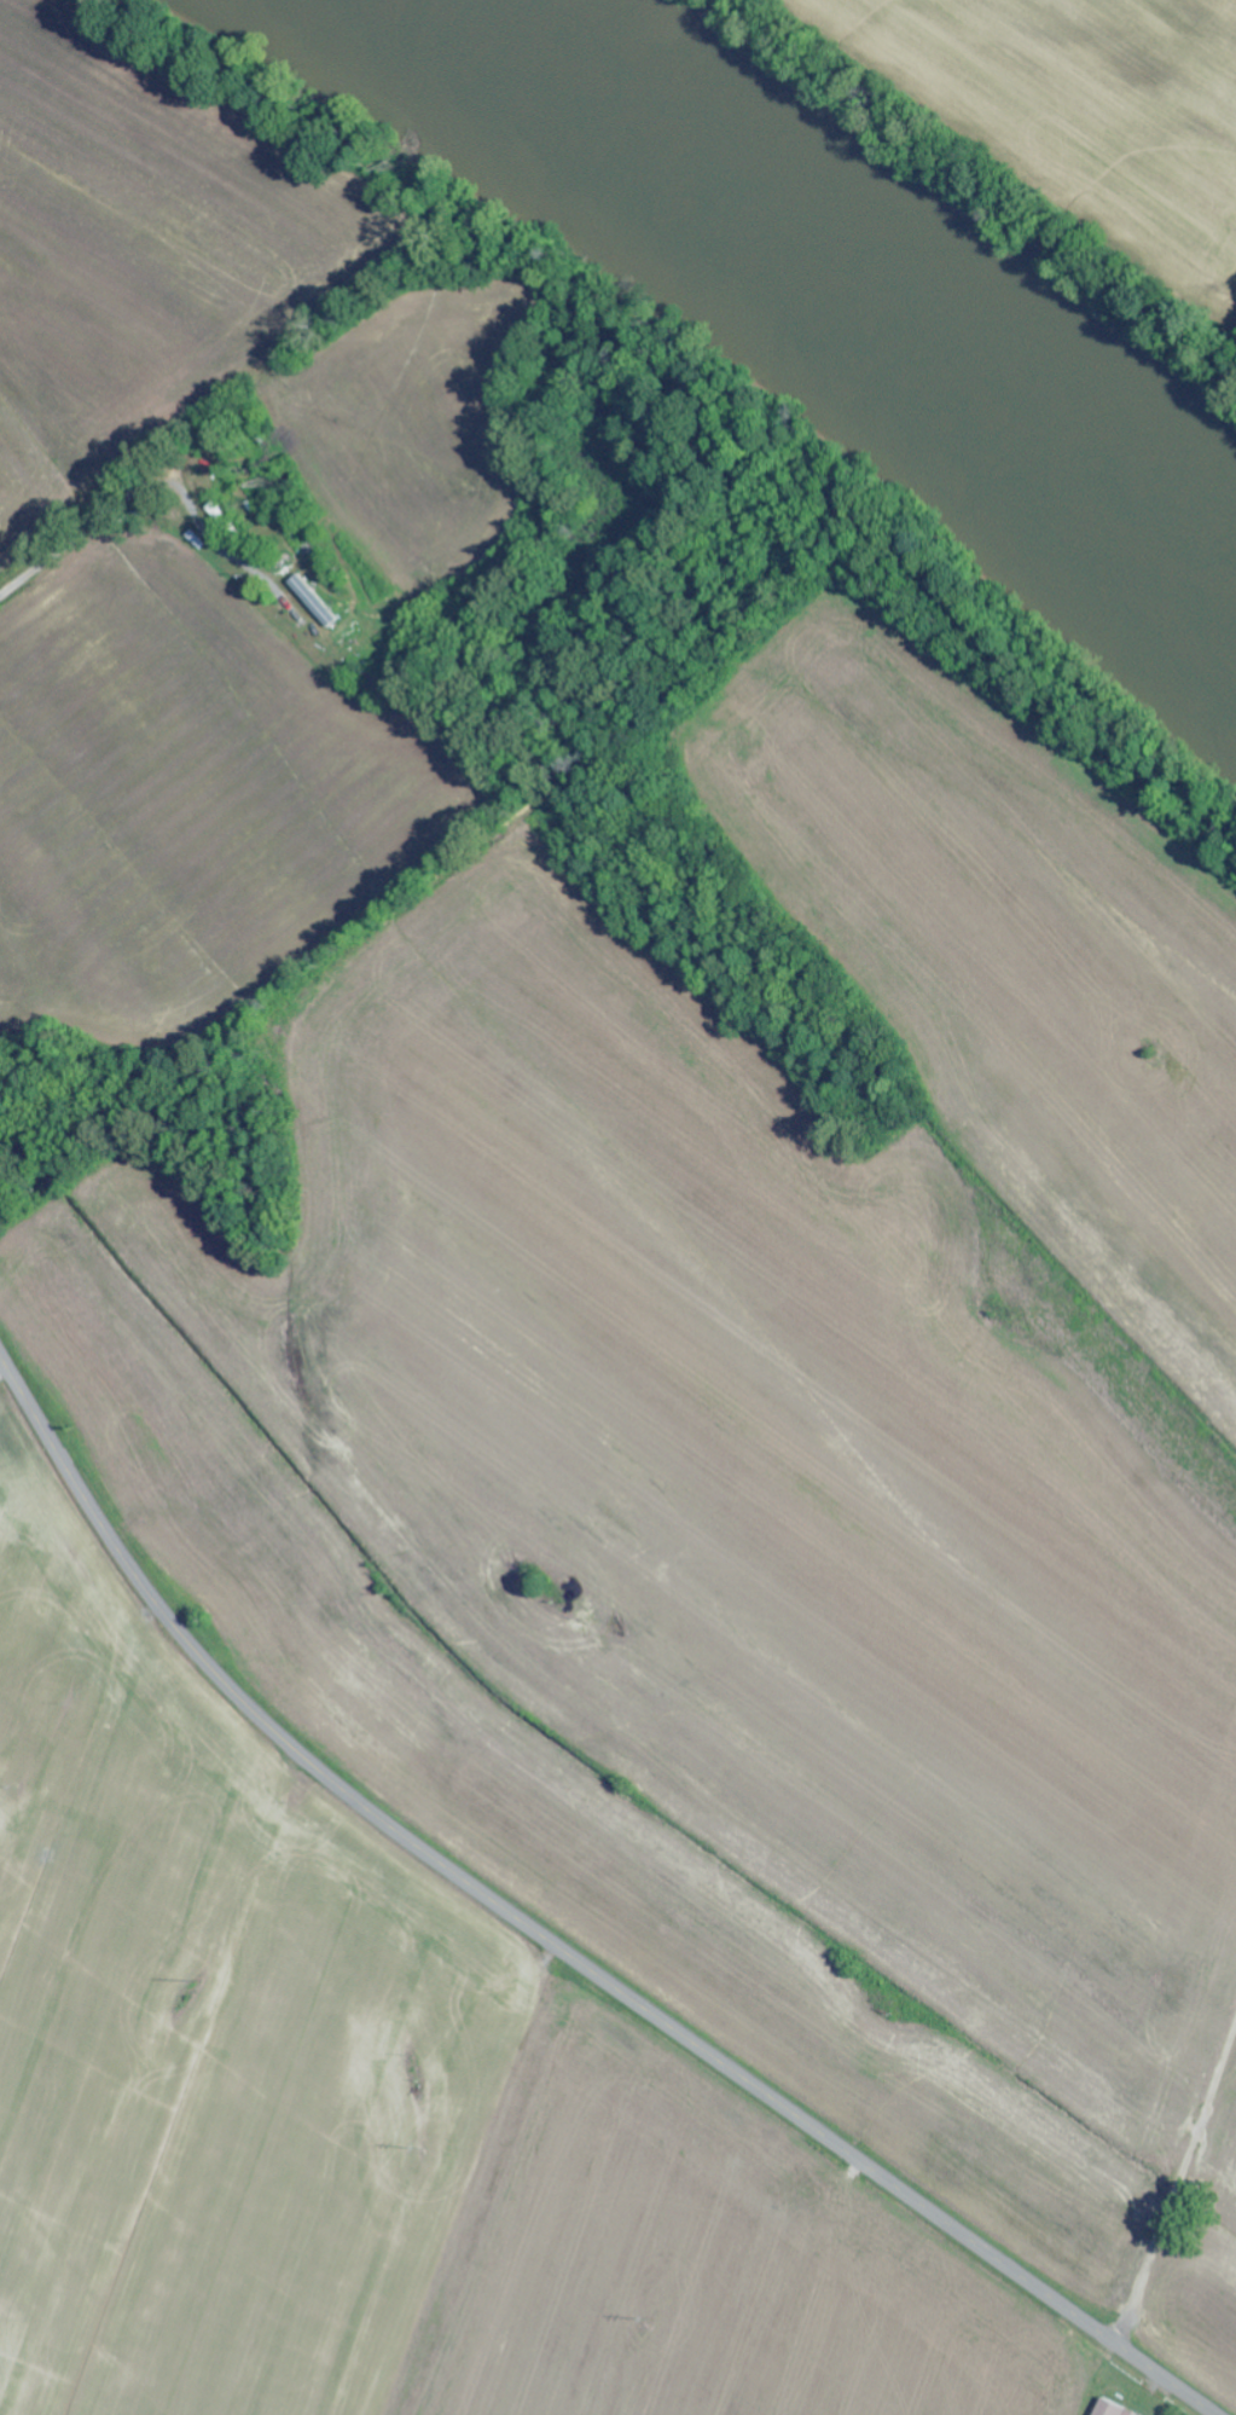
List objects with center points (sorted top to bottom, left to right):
river: (843, 279)
road: (346, 712)
road: (551, 1942)
building: (1109, 2408)

